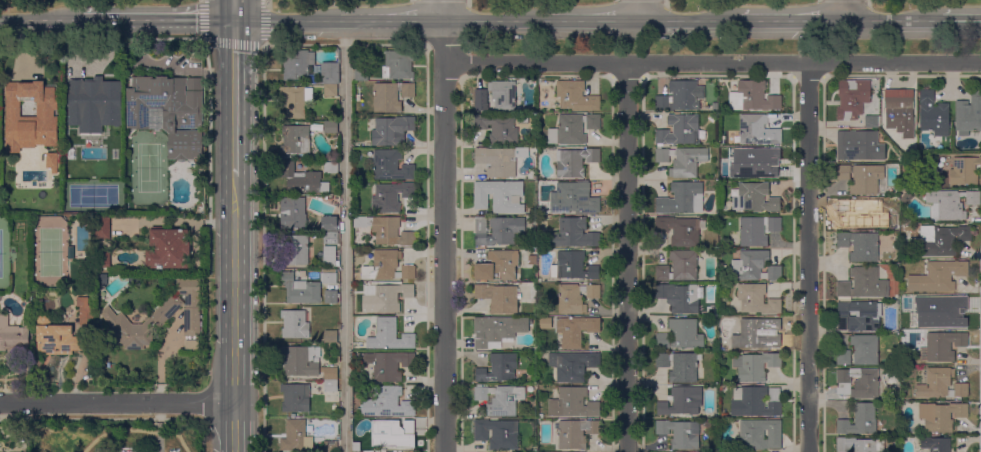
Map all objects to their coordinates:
road: (234, 9)
road: (442, 10)
road: (640, 10)
road: (845, 10)
road: (40, 19)
road: (157, 19)
traffic signals: (234, 19)
road: (286, 19)
road: (391, 20)
road: (495, 20)
road: (593, 20)
road: (690, 20)
road: (793, 21)
road: (893, 21)
road: (950, 21)
road: (970, 21)
road: (235, 42)
building: (296, 64)
road: (712, 64)
building: (398, 65)
building: (330, 73)
building: (361, 74)
building: (331, 90)
building: (503, 94)
building: (391, 96)
building: (680, 96)
road: (234, 97)
building: (575, 97)
building: (753, 98)
building: (853, 99)
building: (295, 101)
building: (93, 103)
building: (481, 104)
building: (898, 109)
building: (169, 111)
building: (934, 115)
building: (969, 115)
building: (30, 116)
building: (873, 122)
building: (330, 127)
building: (498, 128)
building: (573, 128)
building: (392, 130)
building: (679, 130)
building: (757, 130)
building: (295, 139)
building: (859, 145)
building: (902, 158)
building: (682, 160)
building: (51, 161)
building: (497, 161)
building: (575, 161)
building: (755, 162)
building: (905, 163)
building: (391, 165)
building: (331, 167)
building: (69, 171)
building: (964, 171)
building: (7, 175)
building: (862, 178)
building: (302, 179)
building: (499, 196)
building: (391, 197)
building: (755, 197)
building: (574, 198)
building: (681, 198)
building: (907, 198)
building: (951, 203)
building: (357, 209)
building: (532, 211)
building: (293, 212)
building: (860, 214)
building: (331, 225)
building: (102, 228)
building: (386, 230)
building: (498, 230)
building: (680, 230)
building: (757, 230)
building: (573, 233)
road: (445, 235)
building: (896, 235)
road: (345, 236)
building: (332, 238)
building: (940, 239)
building: (714, 243)
building: (860, 246)
building: (168, 248)
road: (262, 248)
building: (295, 249)
building: (71, 252)
building: (331, 257)
road: (627, 258)
road: (808, 258)
building: (102, 259)
building: (753, 265)
building: (387, 266)
building: (498, 266)
building: (573, 266)
building: (679, 266)
building: (329, 276)
building: (939, 276)
building: (863, 284)
building: (300, 289)
building: (331, 296)
building: (391, 297)
building: (575, 297)
building: (681, 297)
building: (499, 298)
building: (757, 299)
building: (191, 305)
building: (85, 310)
road: (235, 313)
building: (941, 313)
building: (859, 316)
building: (139, 324)
building: (295, 324)
building: (497, 330)
building: (572, 330)
building: (390, 335)
building: (681, 335)
building: (755, 335)
building: (14, 336)
building: (330, 336)
building: (56, 337)
building: (192, 346)
building: (944, 346)
building: (865, 349)
building: (844, 357)
building: (300, 361)
building: (389, 365)
building: (573, 365)
building: (680, 365)
building: (755, 366)
building: (499, 368)
building: (330, 373)
building: (859, 383)
building: (942, 384)
building: (331, 386)
building: (295, 397)
building: (500, 399)
building: (682, 401)
building: (756, 402)
road: (118, 403)
building: (387, 403)
building: (573, 403)
building: (941, 416)
building: (862, 421)
road: (159, 427)
building: (663, 427)
building: (394, 433)
building: (498, 433)
building: (576, 433)
building: (759, 434)
building: (686, 435)
building: (296, 436)
building: (331, 438)
building: (357, 444)
building: (935, 444)
building: (859, 445)
building: (318, 446)
building: (331, 446)

